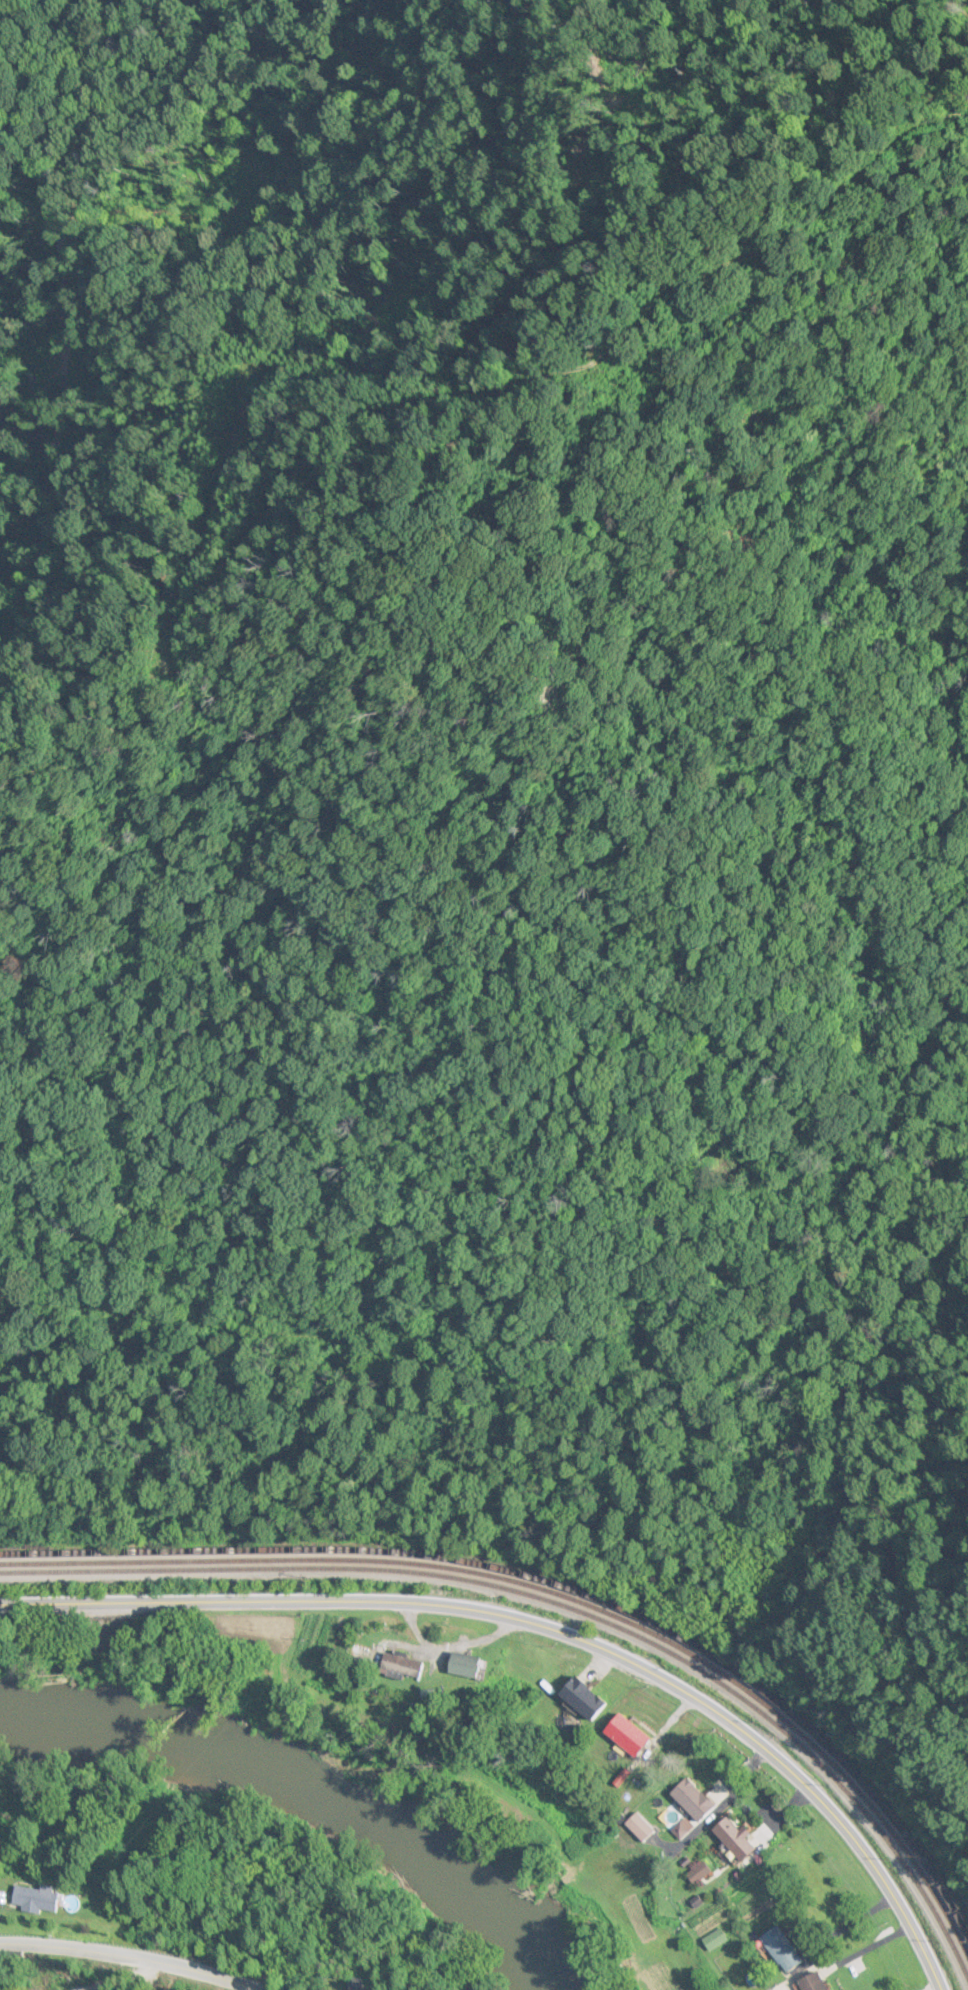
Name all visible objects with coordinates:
railway: (115, 1550)
railway: (561, 1597)
railway: (566, 1607)
railway: (663, 1628)
road: (545, 1629)
building: (408, 1666)
building: (469, 1667)
building: (589, 1700)
building: (632, 1736)
building: (698, 1800)
river: (304, 1803)
building: (643, 1828)
building: (740, 1840)
building: (700, 1873)
building: (34, 1900)
building: (709, 1942)
building: (774, 1951)
road: (132, 1960)
building: (802, 1983)

